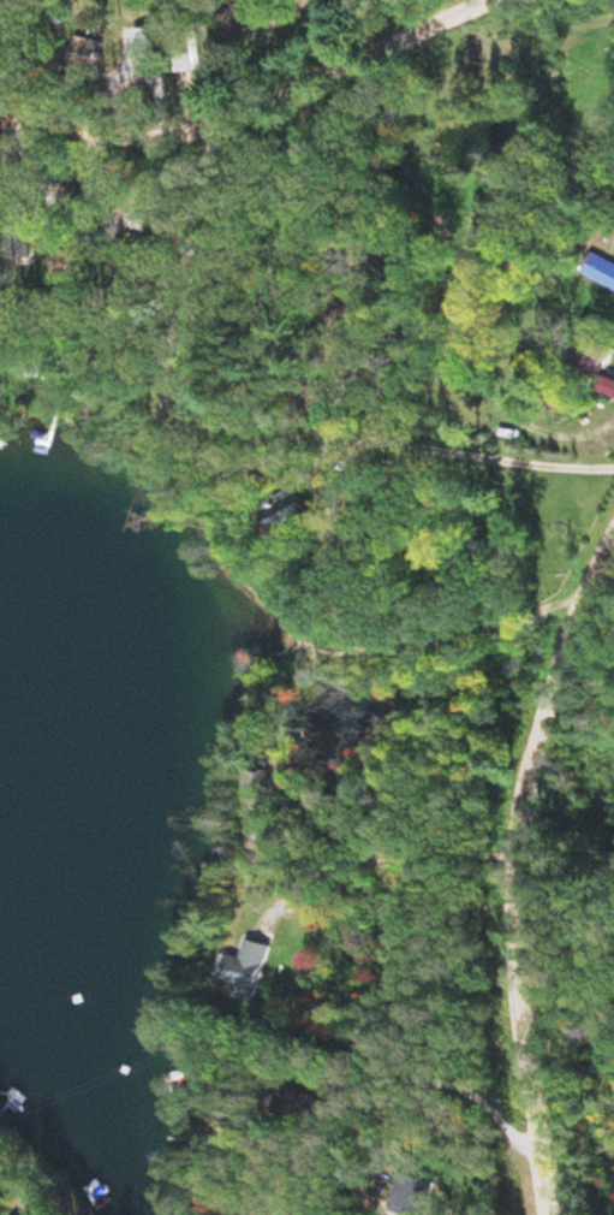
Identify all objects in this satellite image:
road: (165, 57)
building: (179, 61)
road: (264, 88)
road: (491, 170)
building: (598, 273)
road: (409, 439)
road: (421, 835)
road: (524, 873)
building: (262, 970)

